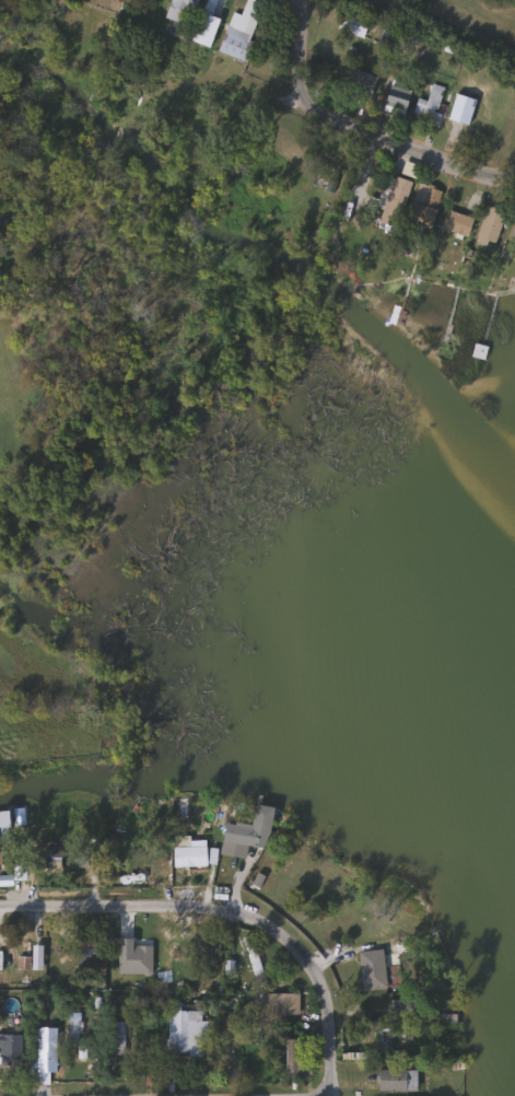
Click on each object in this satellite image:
building: (173, 15)
building: (351, 22)
building: (229, 30)
building: (386, 33)
building: (413, 46)
road: (294, 58)
building: (360, 83)
building: (395, 96)
building: (428, 105)
road: (411, 149)
building: (358, 194)
building: (390, 199)
building: (422, 203)
building: (454, 222)
building: (488, 226)
building: (513, 231)
building: (477, 351)
building: (249, 829)
building: (188, 852)
building: (77, 860)
road: (237, 910)
building: (35, 957)
building: (253, 960)
building: (370, 969)
building: (281, 1003)
building: (180, 1029)
building: (388, 1039)
building: (9, 1051)
building: (42, 1056)
building: (293, 1060)
building: (395, 1080)

